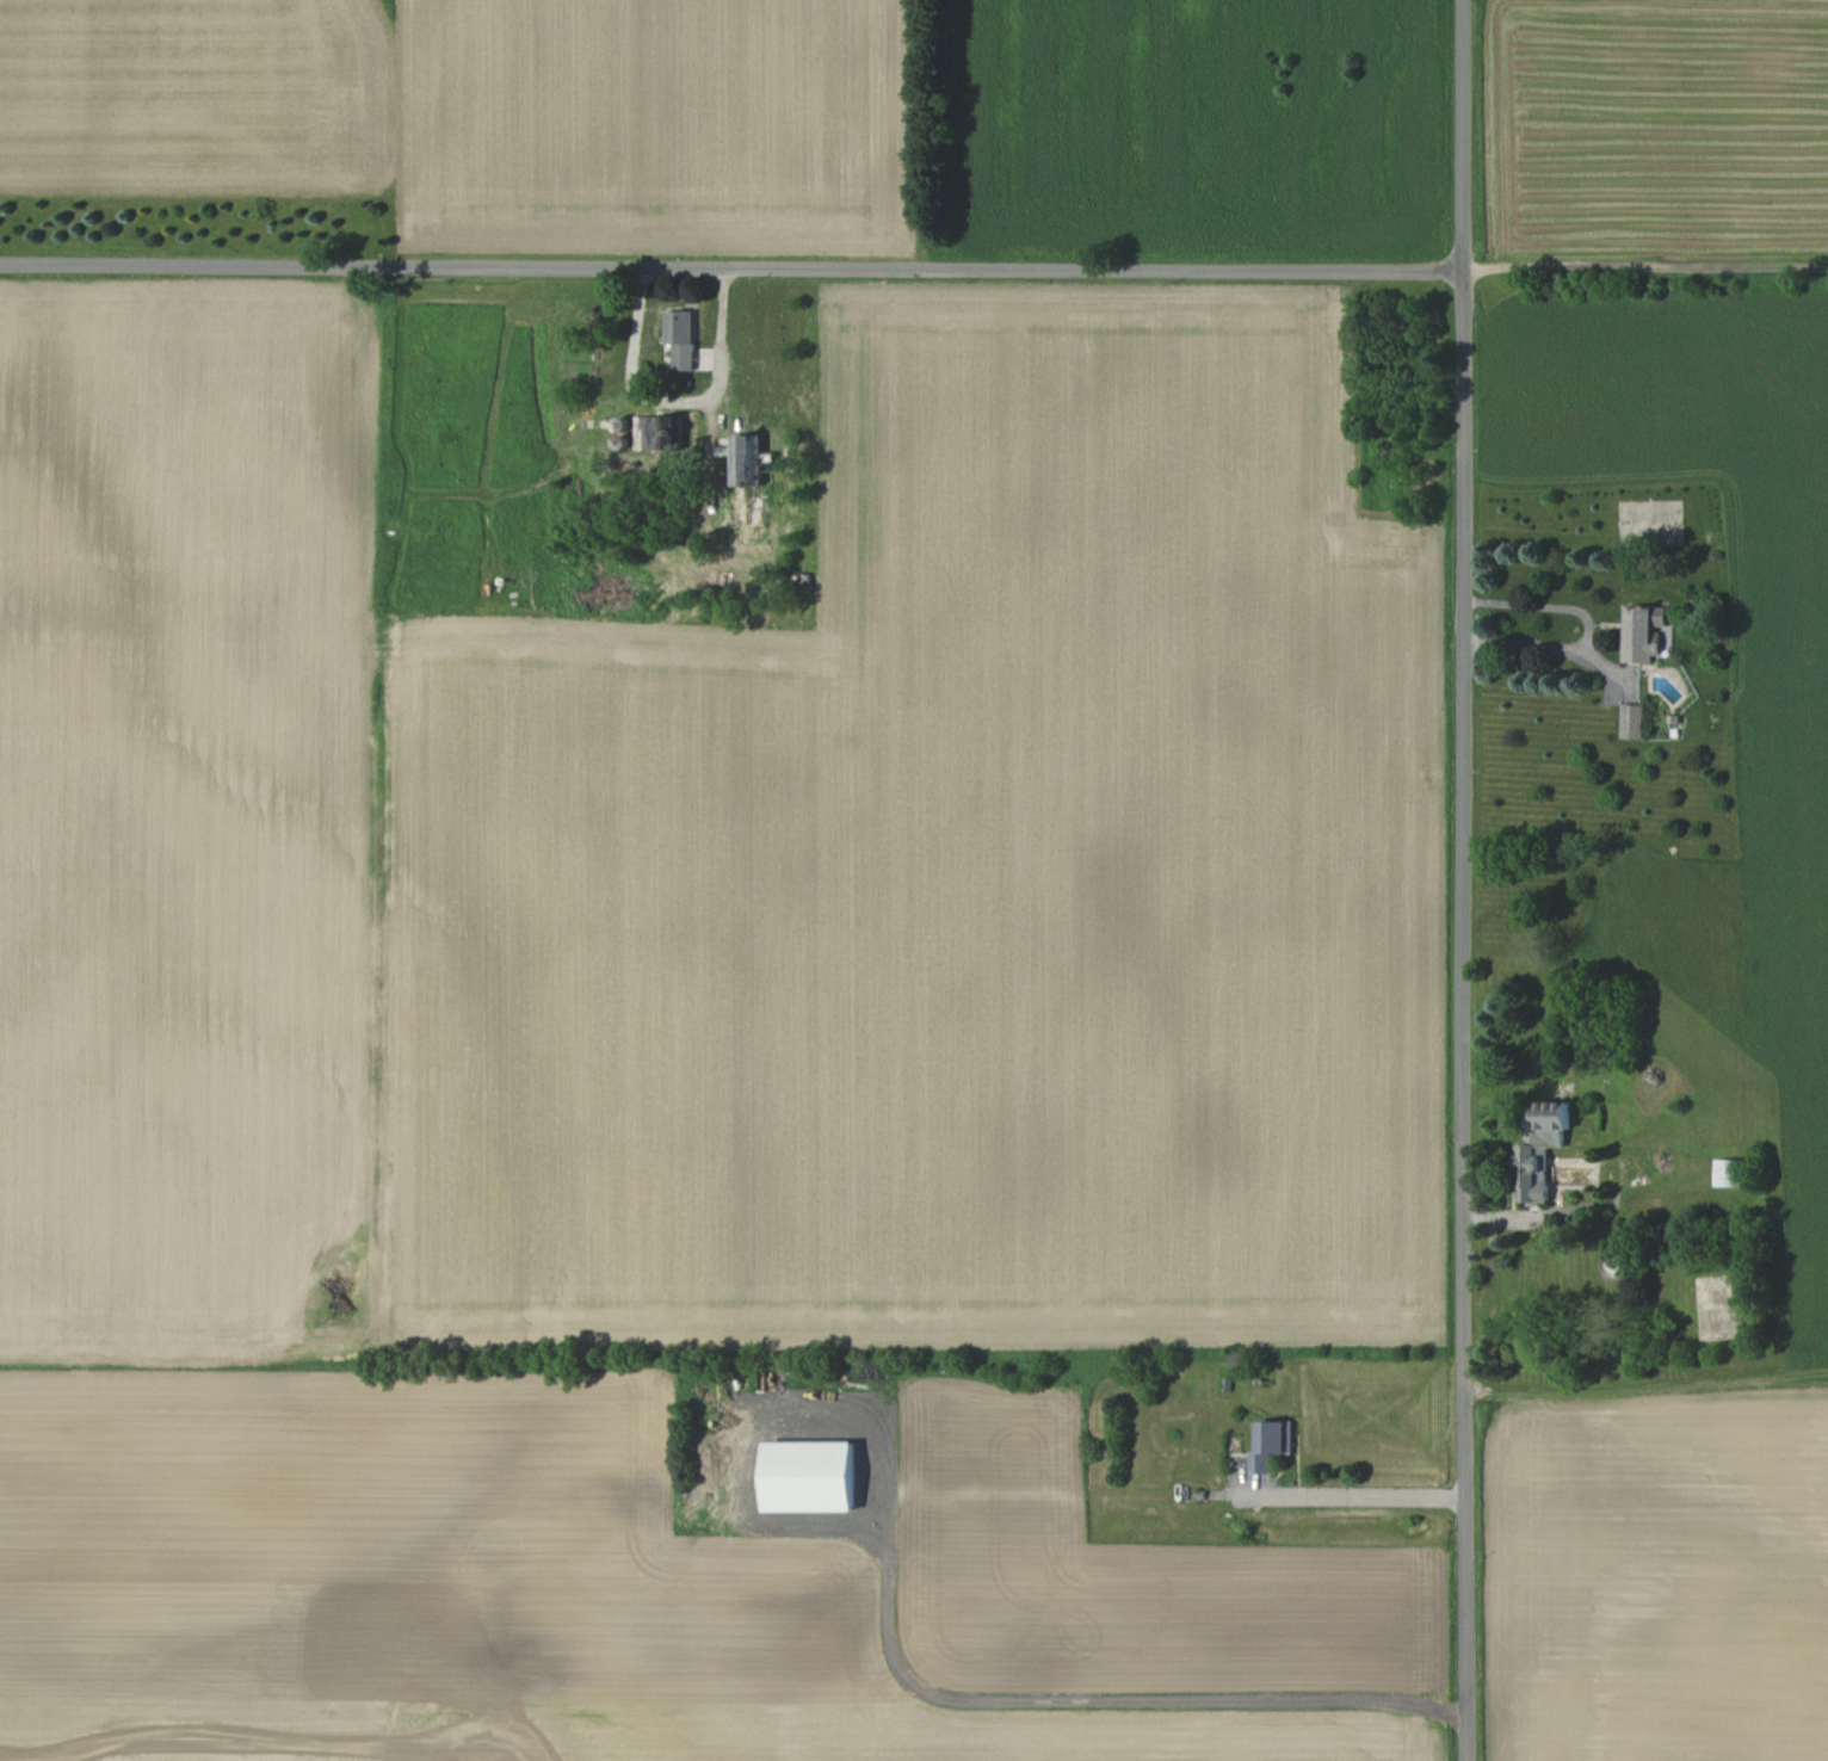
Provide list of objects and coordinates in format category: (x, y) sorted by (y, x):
road: (731, 268)
road: (1647, 271)
building: (681, 336)
road: (674, 400)
building: (673, 431)
building: (747, 458)
road: (1582, 632)
building: (1645, 632)
building: (1631, 719)
road: (1466, 879)
building: (1542, 1147)
building: (1727, 1170)
building: (1272, 1441)
building: (811, 1475)
road: (1364, 1494)
road: (1083, 1699)

